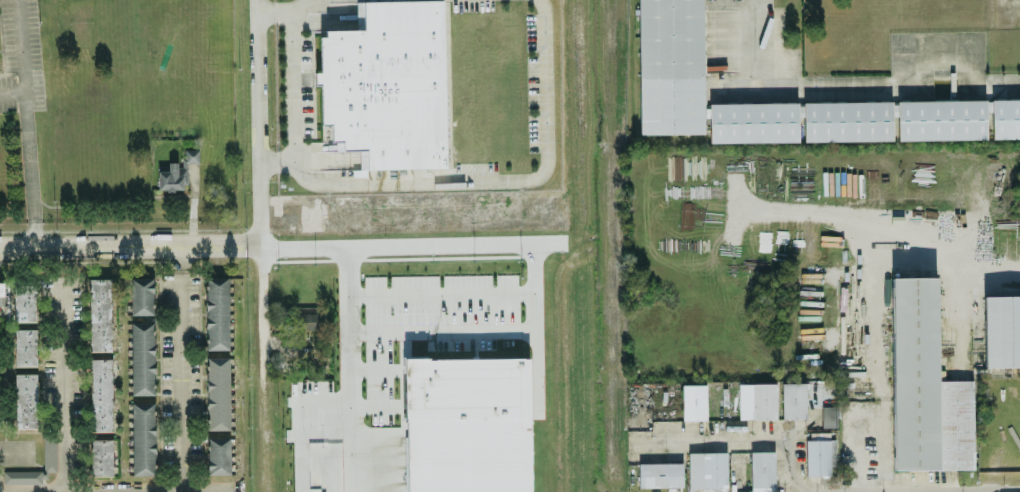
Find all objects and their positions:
road: (720, 3)
road: (278, 5)
road: (753, 42)
building: (670, 66)
road: (289, 84)
road: (755, 84)
building: (387, 85)
road: (11, 93)
building: (1005, 117)
building: (941, 118)
building: (847, 119)
road: (257, 120)
building: (753, 121)
road: (24, 122)
building: (176, 171)
road: (486, 183)
road: (956, 236)
road: (129, 243)
road: (301, 246)
road: (346, 262)
road: (441, 291)
road: (879, 291)
building: (1, 293)
building: (141, 294)
building: (24, 301)
road: (260, 301)
building: (216, 312)
building: (99, 313)
road: (482, 330)
building: (1001, 330)
building: (24, 346)
building: (142, 357)
road: (177, 367)
road: (64, 384)
building: (925, 386)
building: (217, 392)
building: (100, 393)
road: (323, 398)
building: (24, 399)
building: (793, 399)
building: (694, 400)
building: (757, 400)
building: (829, 415)
building: (467, 424)
road: (322, 432)
building: (143, 437)
road: (739, 441)
building: (49, 453)
building: (818, 454)
building: (101, 455)
building: (217, 455)
building: (707, 468)
building: (762, 471)
building: (660, 473)
road: (144, 491)
road: (169, 491)
road: (927, 491)

